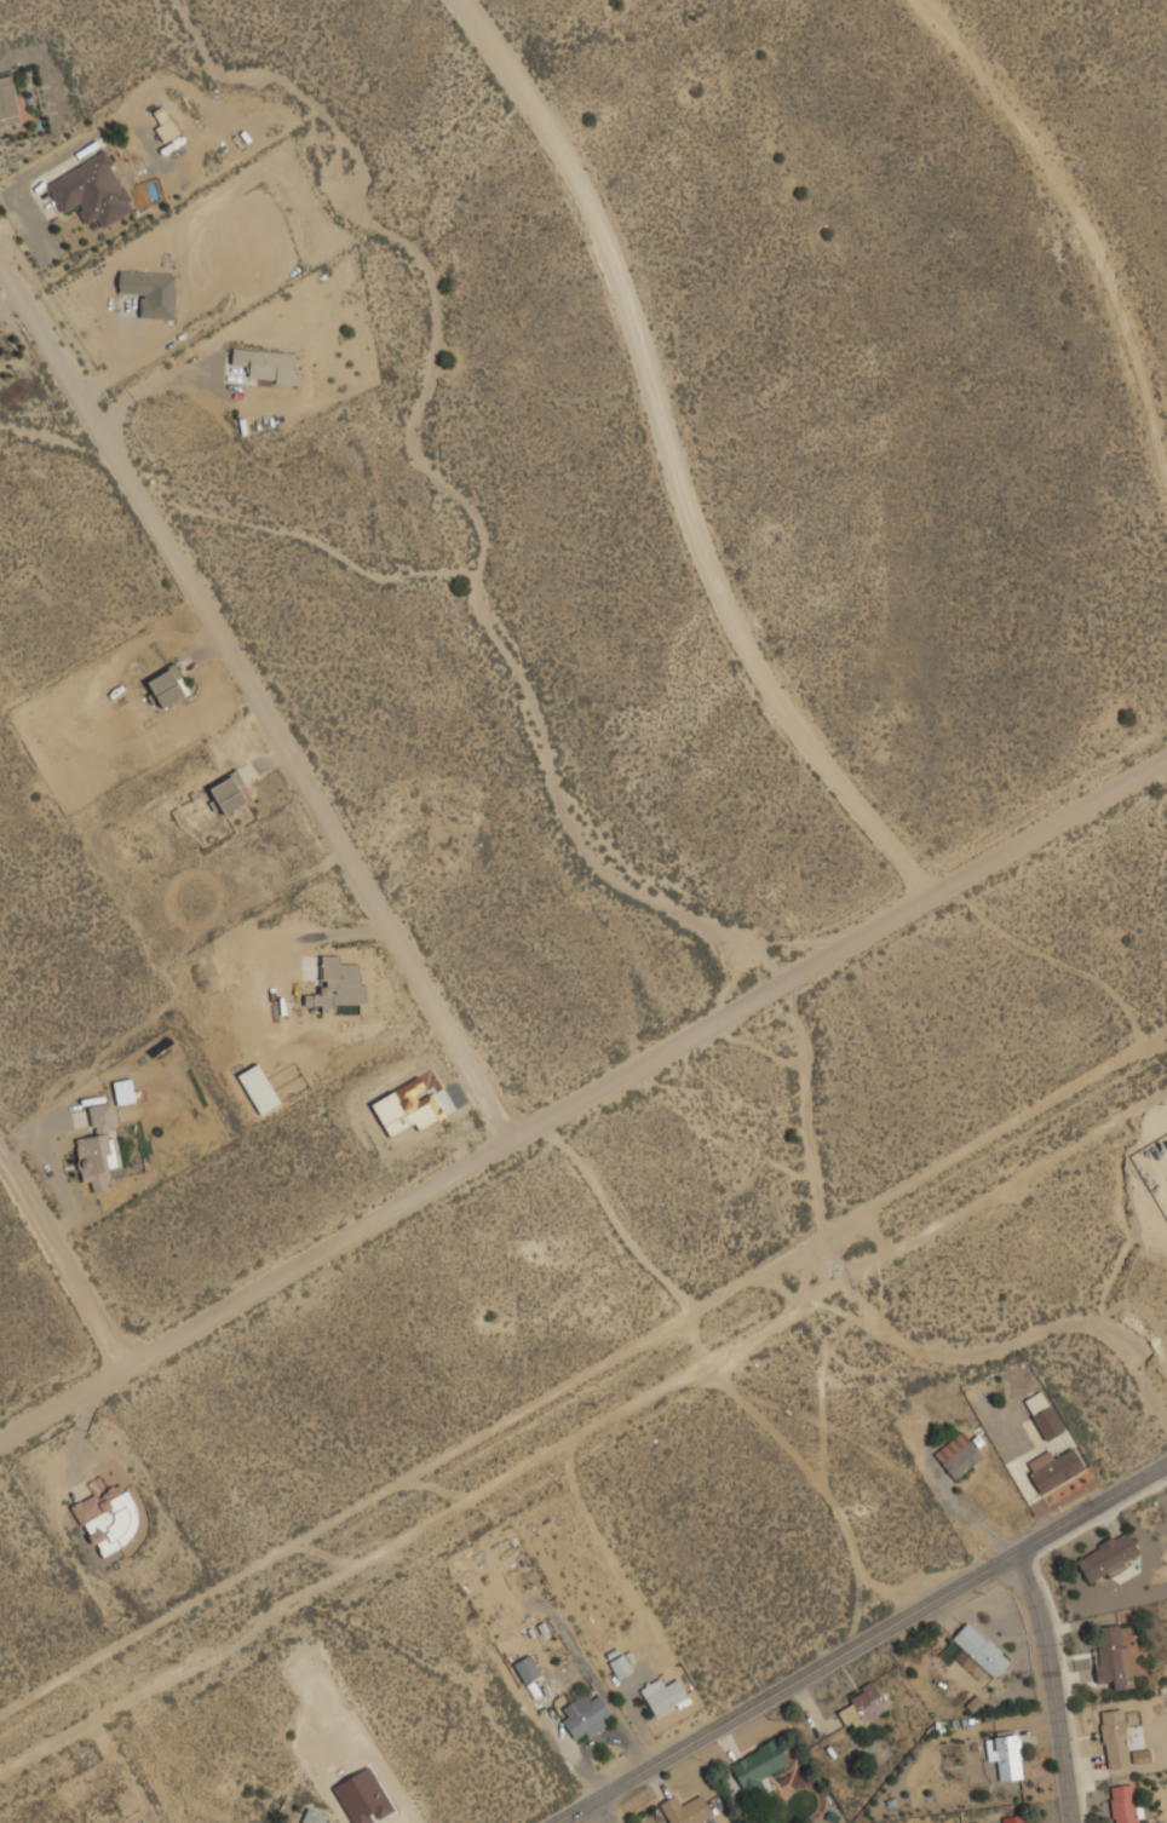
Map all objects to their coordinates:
building: (8, 102)
building: (161, 143)
building: (93, 189)
road: (1079, 229)
building: (151, 292)
building: (269, 364)
road: (672, 461)
building: (169, 685)
road: (260, 701)
building: (230, 793)
road: (583, 1097)
building: (102, 1115)
road: (61, 1259)
building: (1045, 1414)
road: (583, 1432)
building: (959, 1455)
building: (1054, 1467)
building: (110, 1516)
building: (1108, 1555)
road: (857, 1643)
building: (982, 1647)
building: (1114, 1654)
building: (622, 1664)
building: (528, 1667)
road: (1046, 1686)
building: (665, 1696)
building: (863, 1704)
building: (586, 1715)
building: (1116, 1738)
building: (1006, 1754)
building: (760, 1766)
building: (1126, 1804)
building: (686, 1810)
road: (597, 1811)
building: (314, 1816)
building: (1017, 1818)

